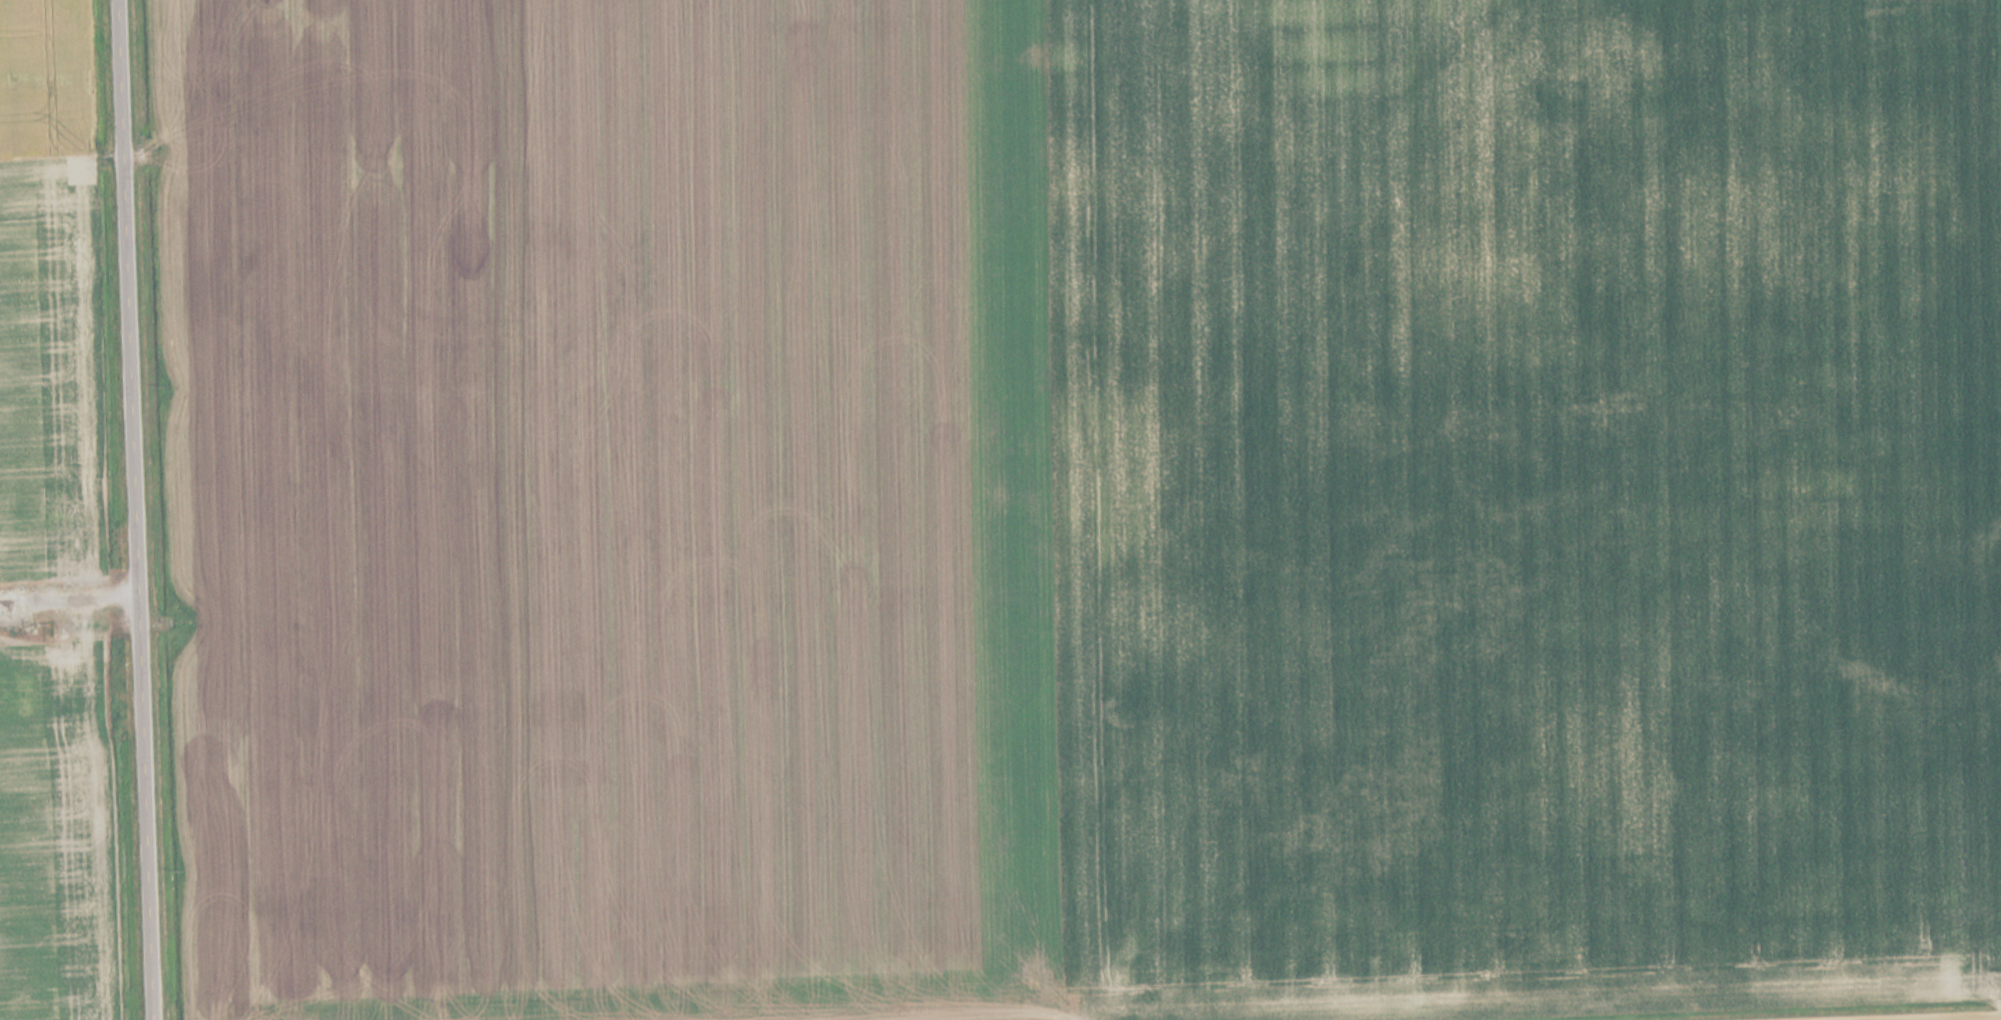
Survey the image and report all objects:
road: (150, 510)
road: (1934, 1017)

